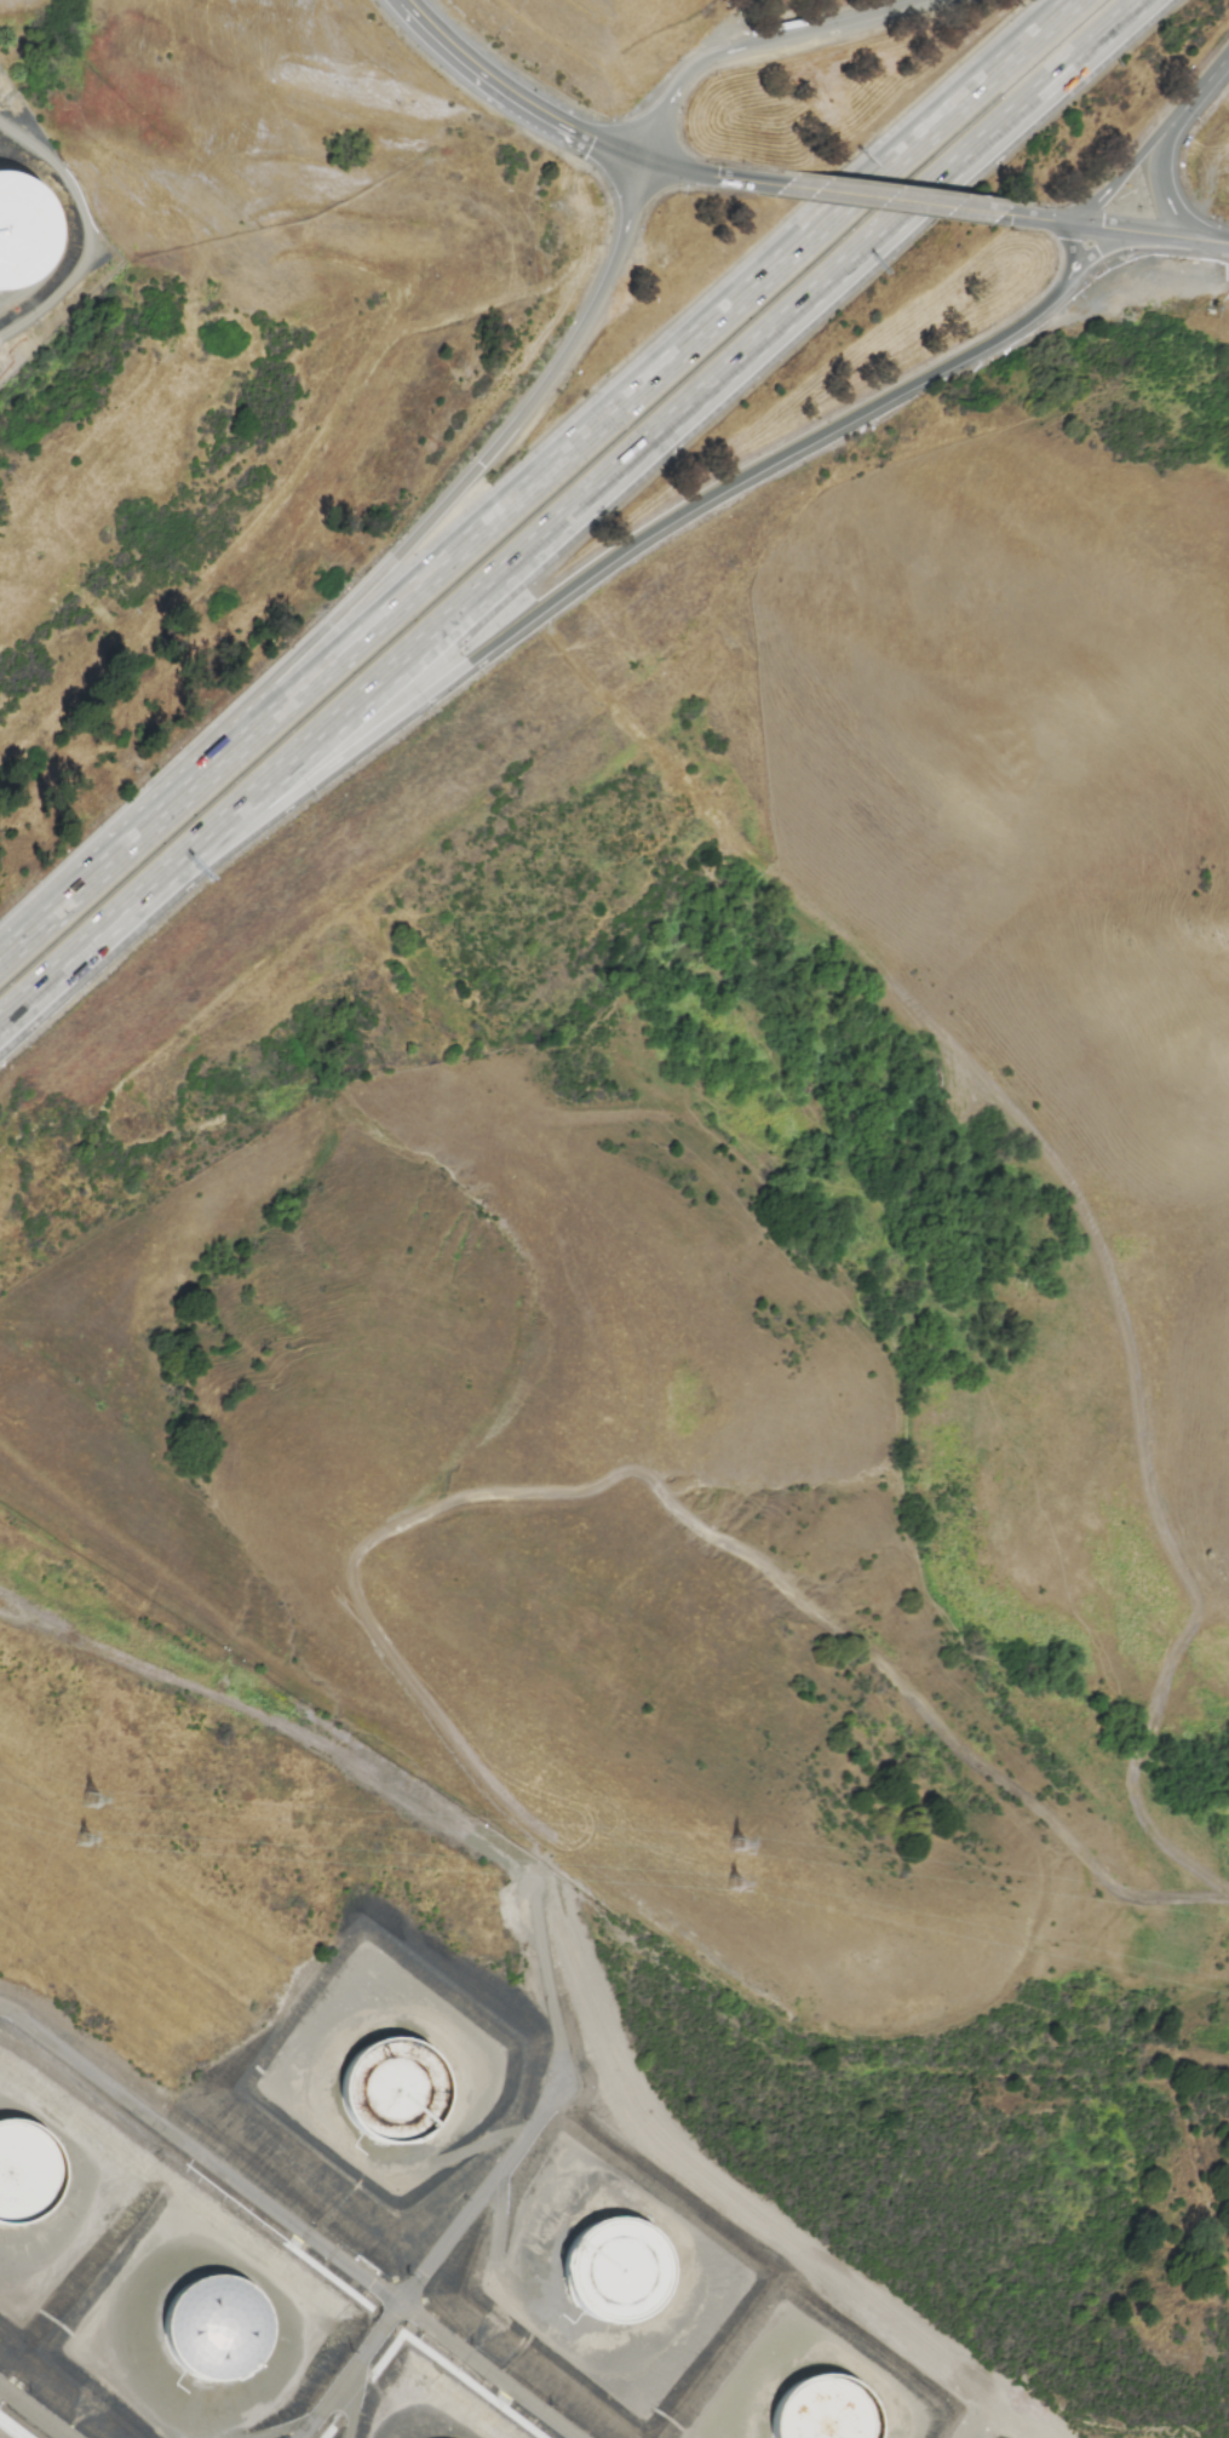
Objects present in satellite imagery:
road: (762, 46)
road: (1196, 92)
road: (518, 93)
street lamp: (609, 111)
street lamp: (679, 113)
street lamp: (1196, 124)
road: (691, 172)
road: (1118, 179)
street lamp: (599, 197)
street lamp: (677, 197)
road: (1165, 197)
road: (872, 199)
street lamp: (1044, 205)
road: (1035, 219)
road: (1104, 228)
building: (23, 234)
storage tank: (23, 234)
road: (1181, 239)
road: (1223, 243)
road: (1073, 247)
road: (1105, 248)
street lamp: (1124, 259)
road: (627, 463)
road: (536, 472)
road: (395, 555)
road: (582, 584)
road: (56, 975)
road: (633, 1321)
road: (741, 1549)
road: (278, 1698)
power tower: (90, 1802)
power tower: (79, 1840)
power tower: (739, 1845)
power tower: (736, 1887)
building: (398, 2109)
storage tank: (398, 2109)
building: (24, 2184)
storage tank: (24, 2184)
road: (729, 2193)
road: (1210, 2205)
road: (292, 2220)
road: (441, 2261)
building: (622, 2276)
storage tank: (622, 2276)
building: (217, 2342)
storage tank: (217, 2342)
road: (36, 2410)
building: (821, 2416)
storage tank: (821, 2416)
road: (1024, 2423)

